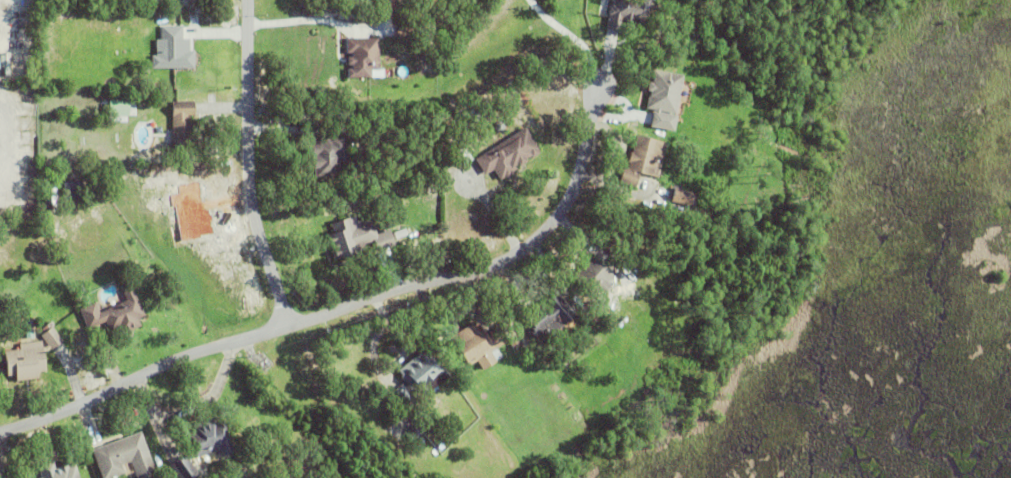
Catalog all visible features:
building: (626, 13)
building: (427, 33)
road: (565, 35)
building: (172, 51)
building: (363, 59)
building: (663, 100)
building: (119, 111)
building: (486, 113)
building: (468, 118)
building: (498, 128)
building: (183, 129)
building: (508, 156)
building: (325, 157)
building: (461, 158)
building: (642, 162)
road: (249, 165)
building: (72, 189)
building: (682, 199)
building: (355, 244)
building: (592, 279)
road: (351, 304)
building: (115, 317)
building: (542, 322)
building: (28, 332)
building: (51, 339)
building: (477, 347)
building: (25, 362)
building: (419, 379)
building: (202, 446)
building: (124, 459)
building: (56, 472)

